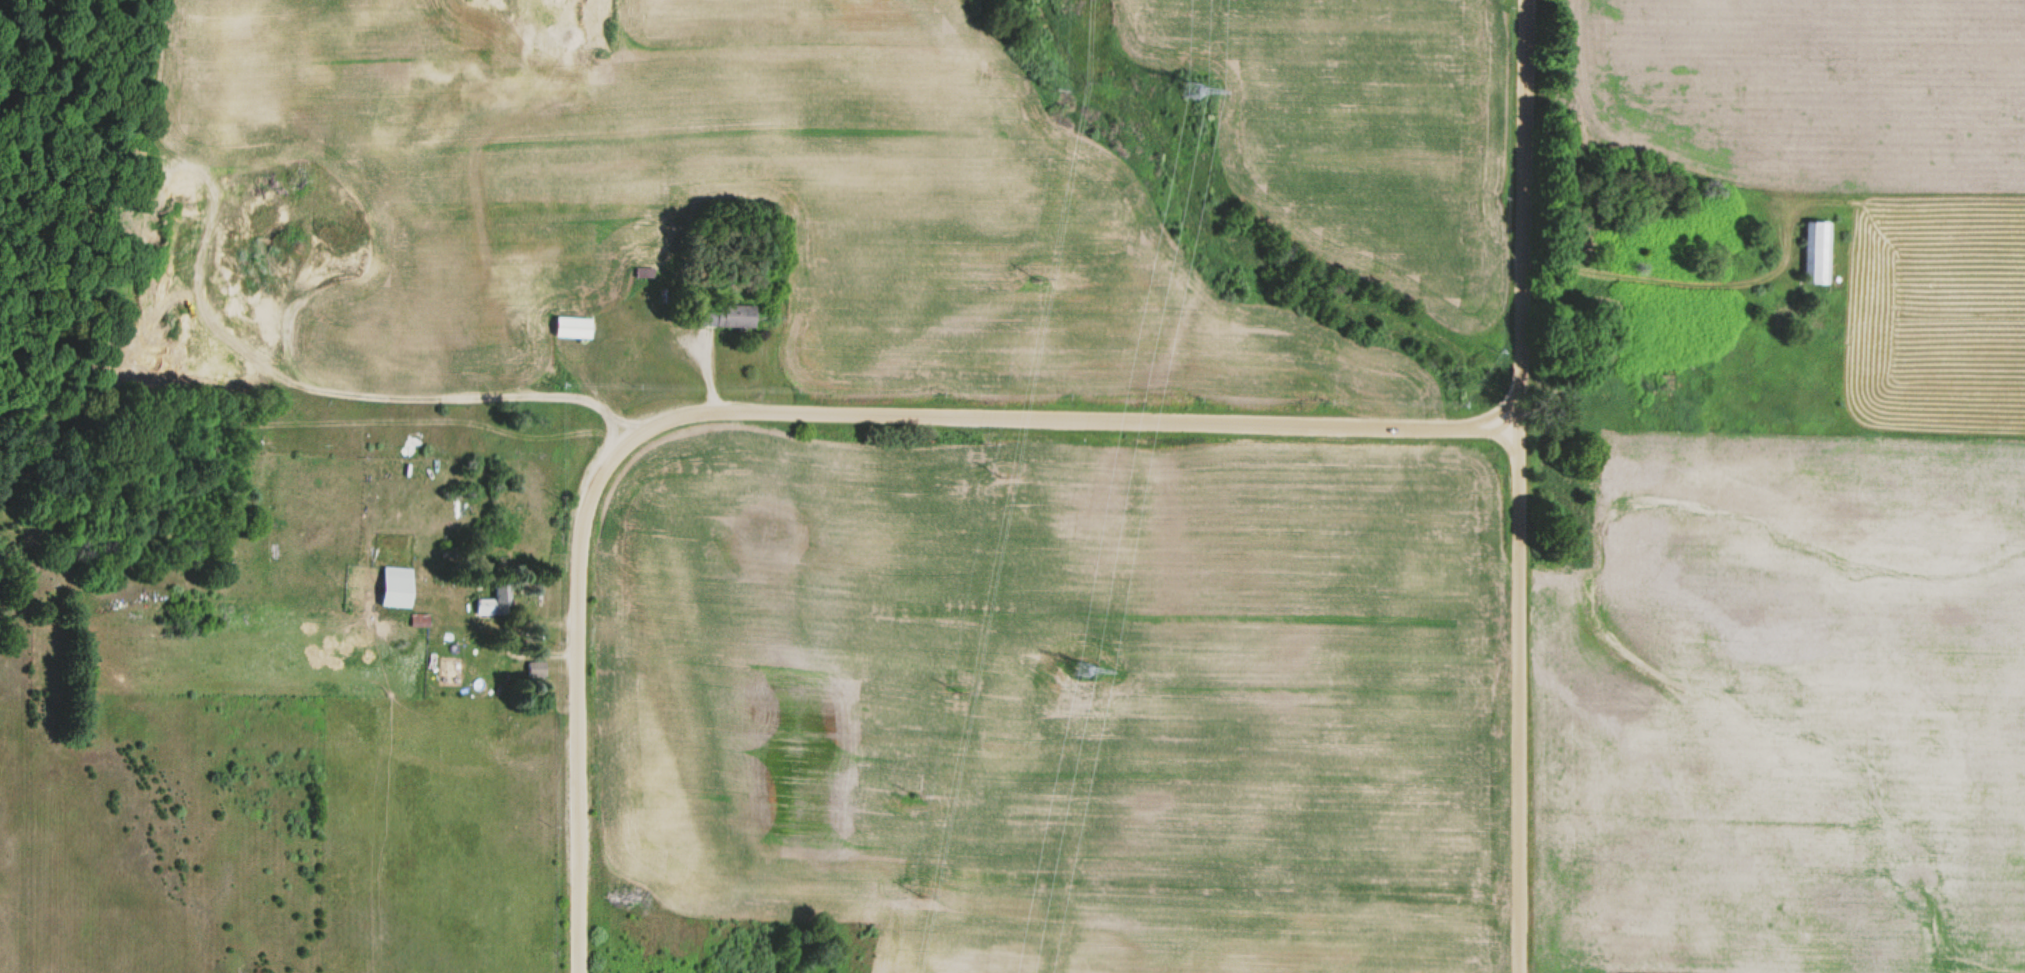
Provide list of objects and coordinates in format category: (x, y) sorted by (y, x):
power tower: (1192, 85)
building: (1817, 254)
building: (735, 316)
building: (574, 328)
road: (795, 414)
road: (1516, 486)
building: (399, 588)
building: (499, 601)
building: (420, 621)
power tower: (1084, 666)

